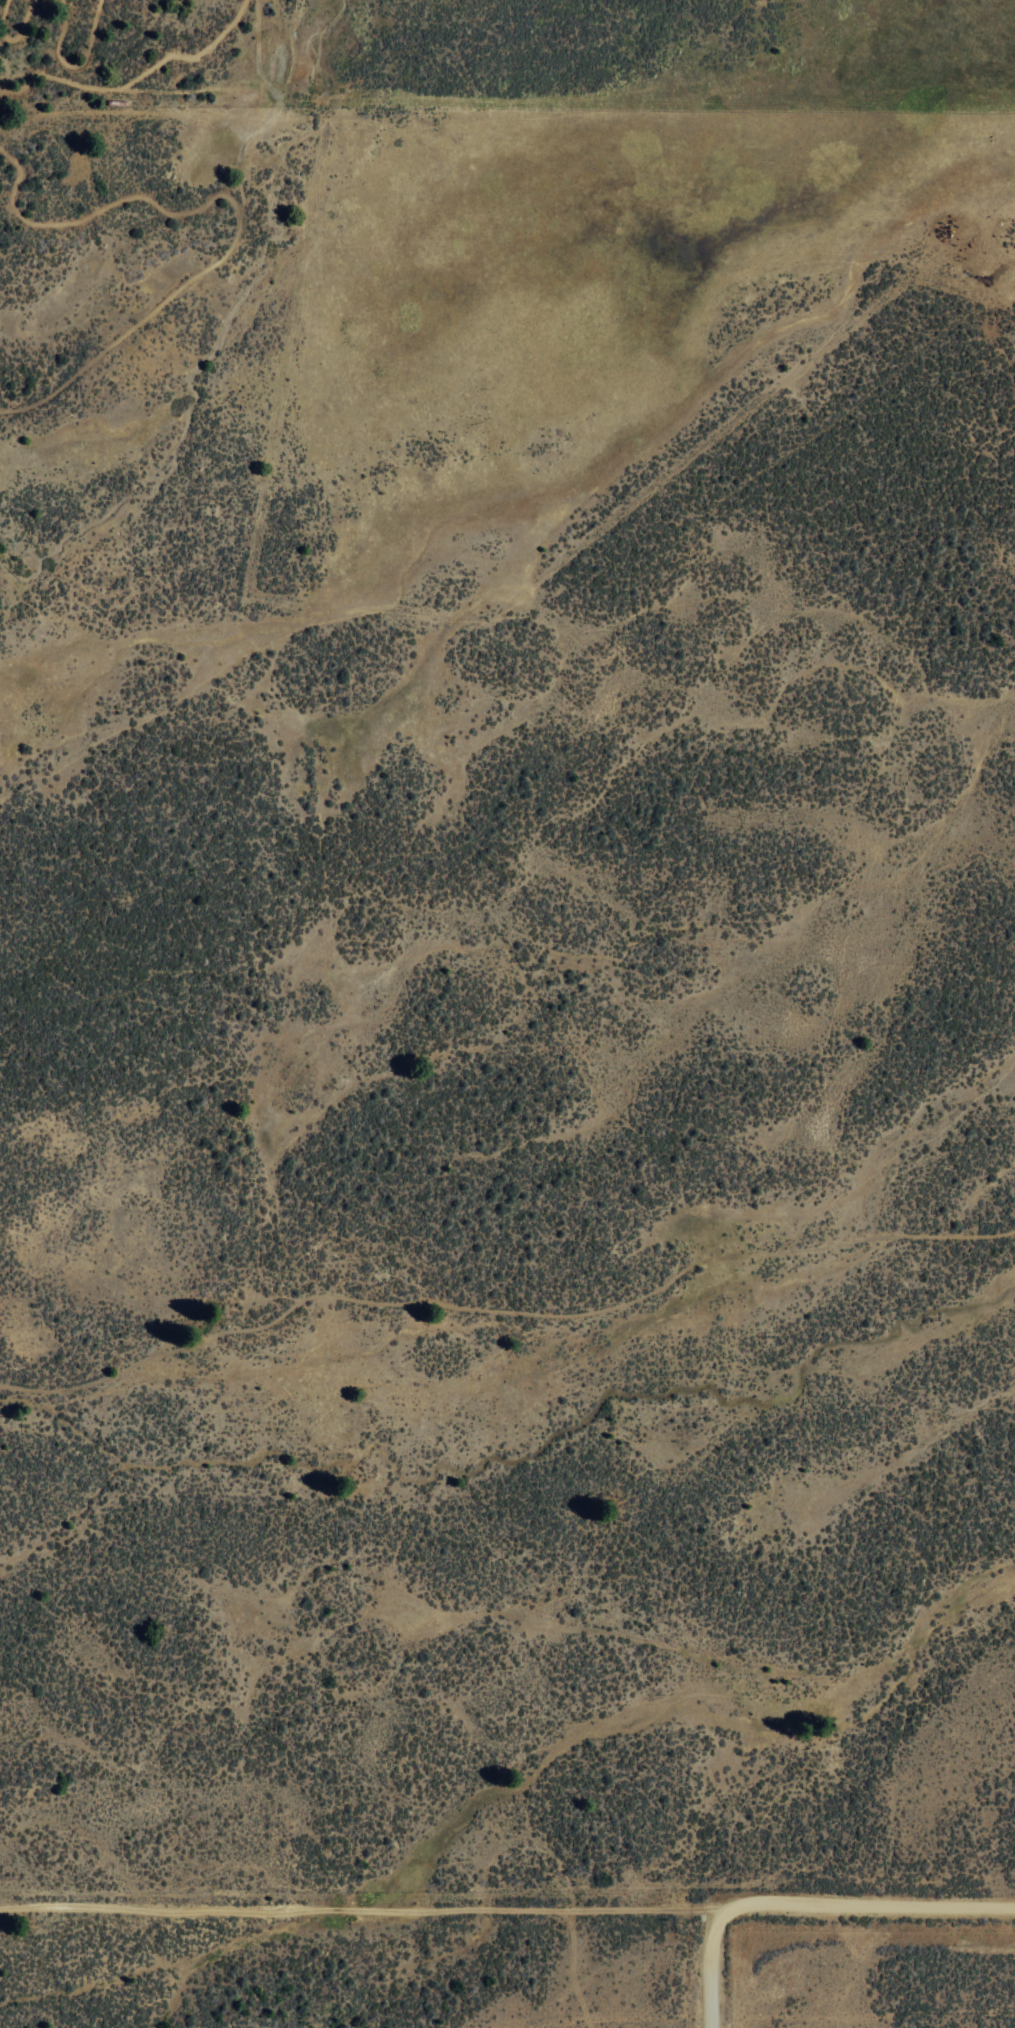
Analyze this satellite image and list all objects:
road: (2, 11)
road: (20, 26)
road: (70, 65)
road: (224, 253)
crop: (529, 1032)
road: (503, 1311)
road: (869, 1903)
road: (362, 1910)
road: (712, 1967)

